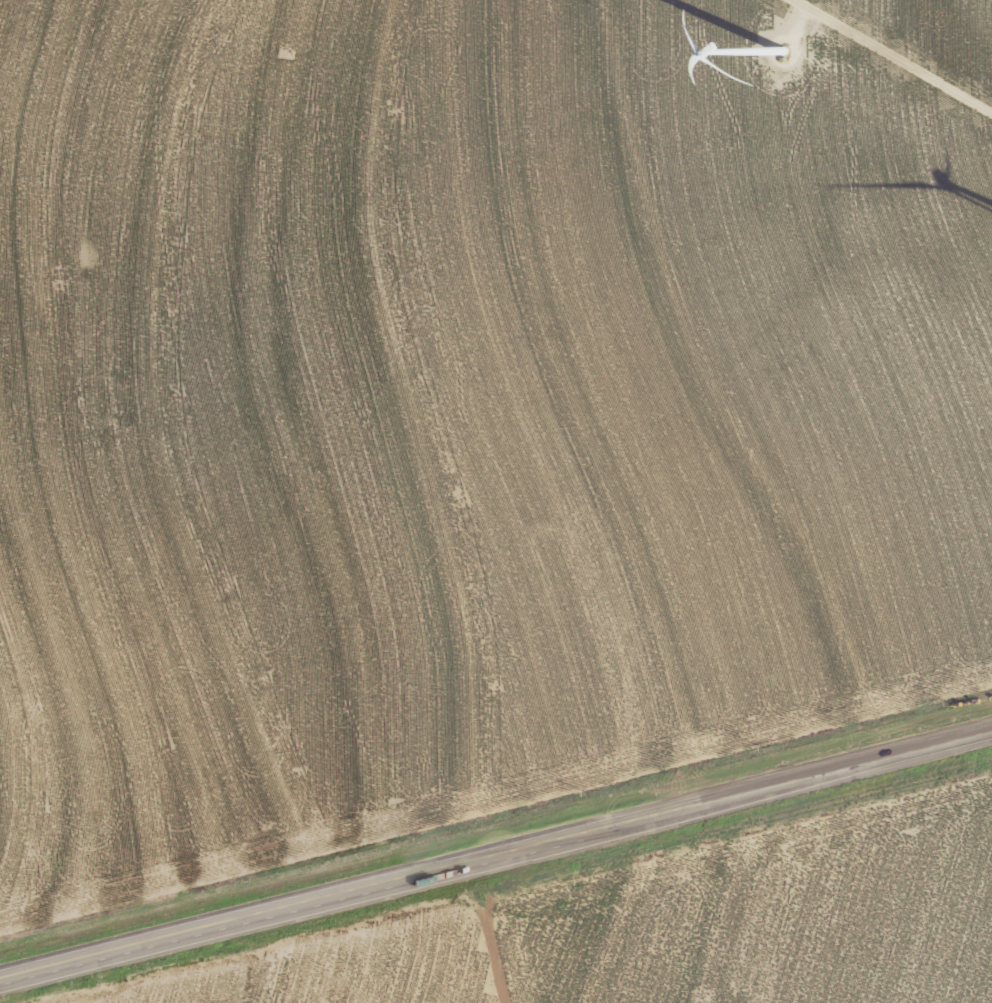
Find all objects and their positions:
wind turbine: (771, 51)
road: (892, 56)
road: (496, 852)

